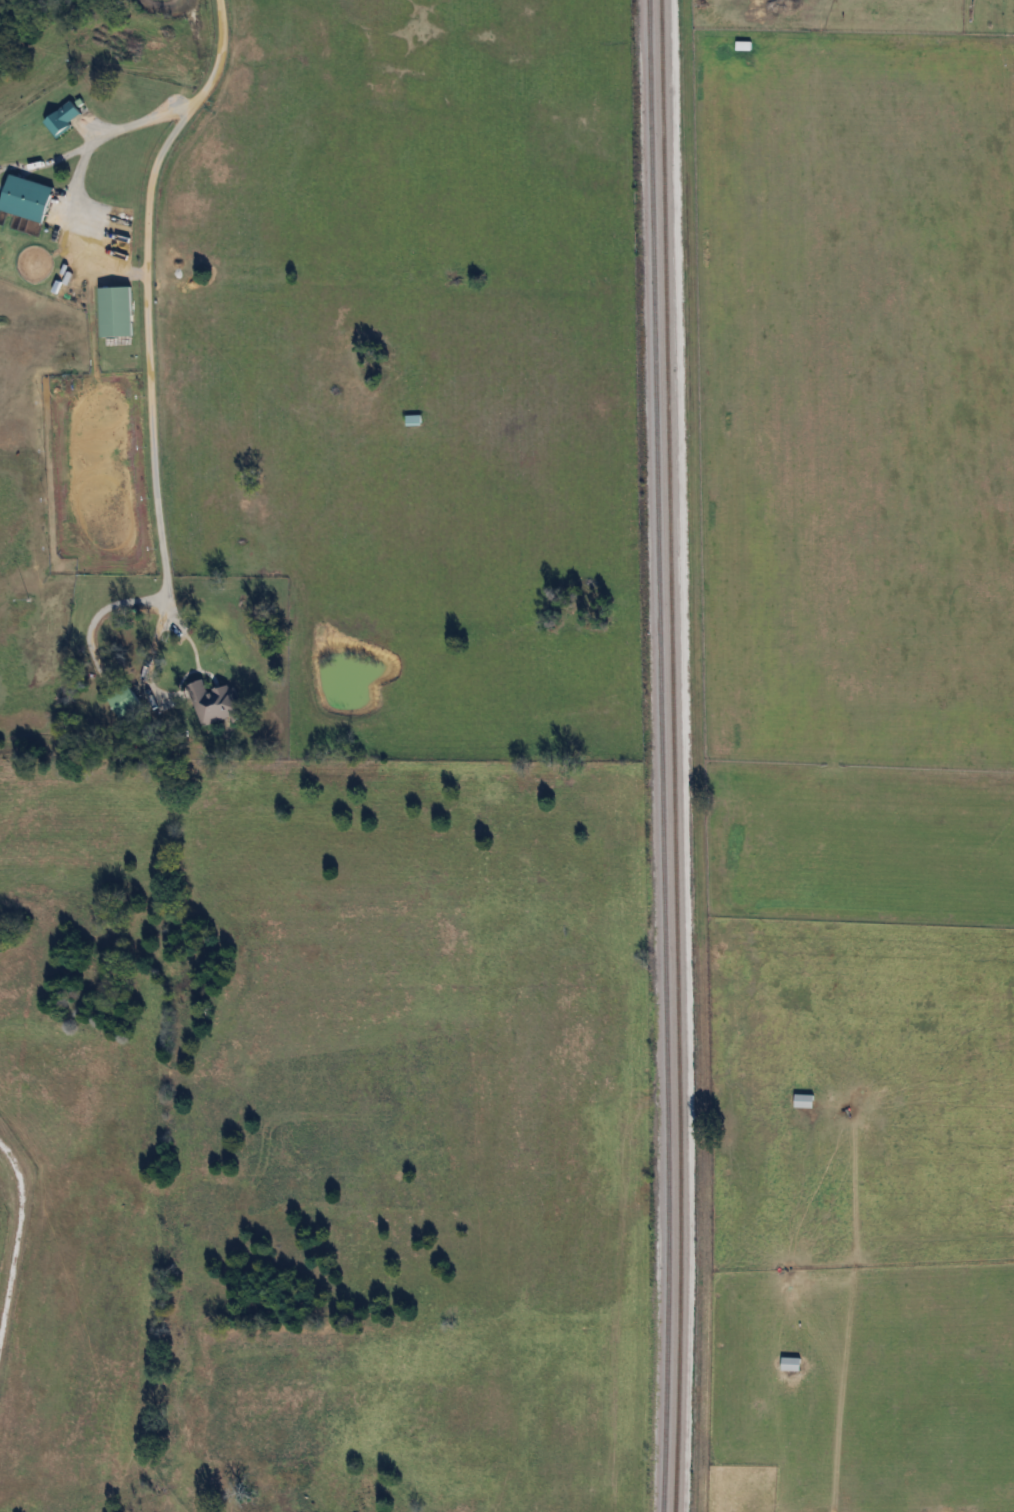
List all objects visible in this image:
building: (60, 120)
building: (25, 197)
road: (156, 294)
building: (114, 311)
building: (415, 419)
building: (125, 701)
building: (216, 703)
railway: (671, 756)
building: (804, 1101)
road: (19, 1242)
building: (791, 1364)

